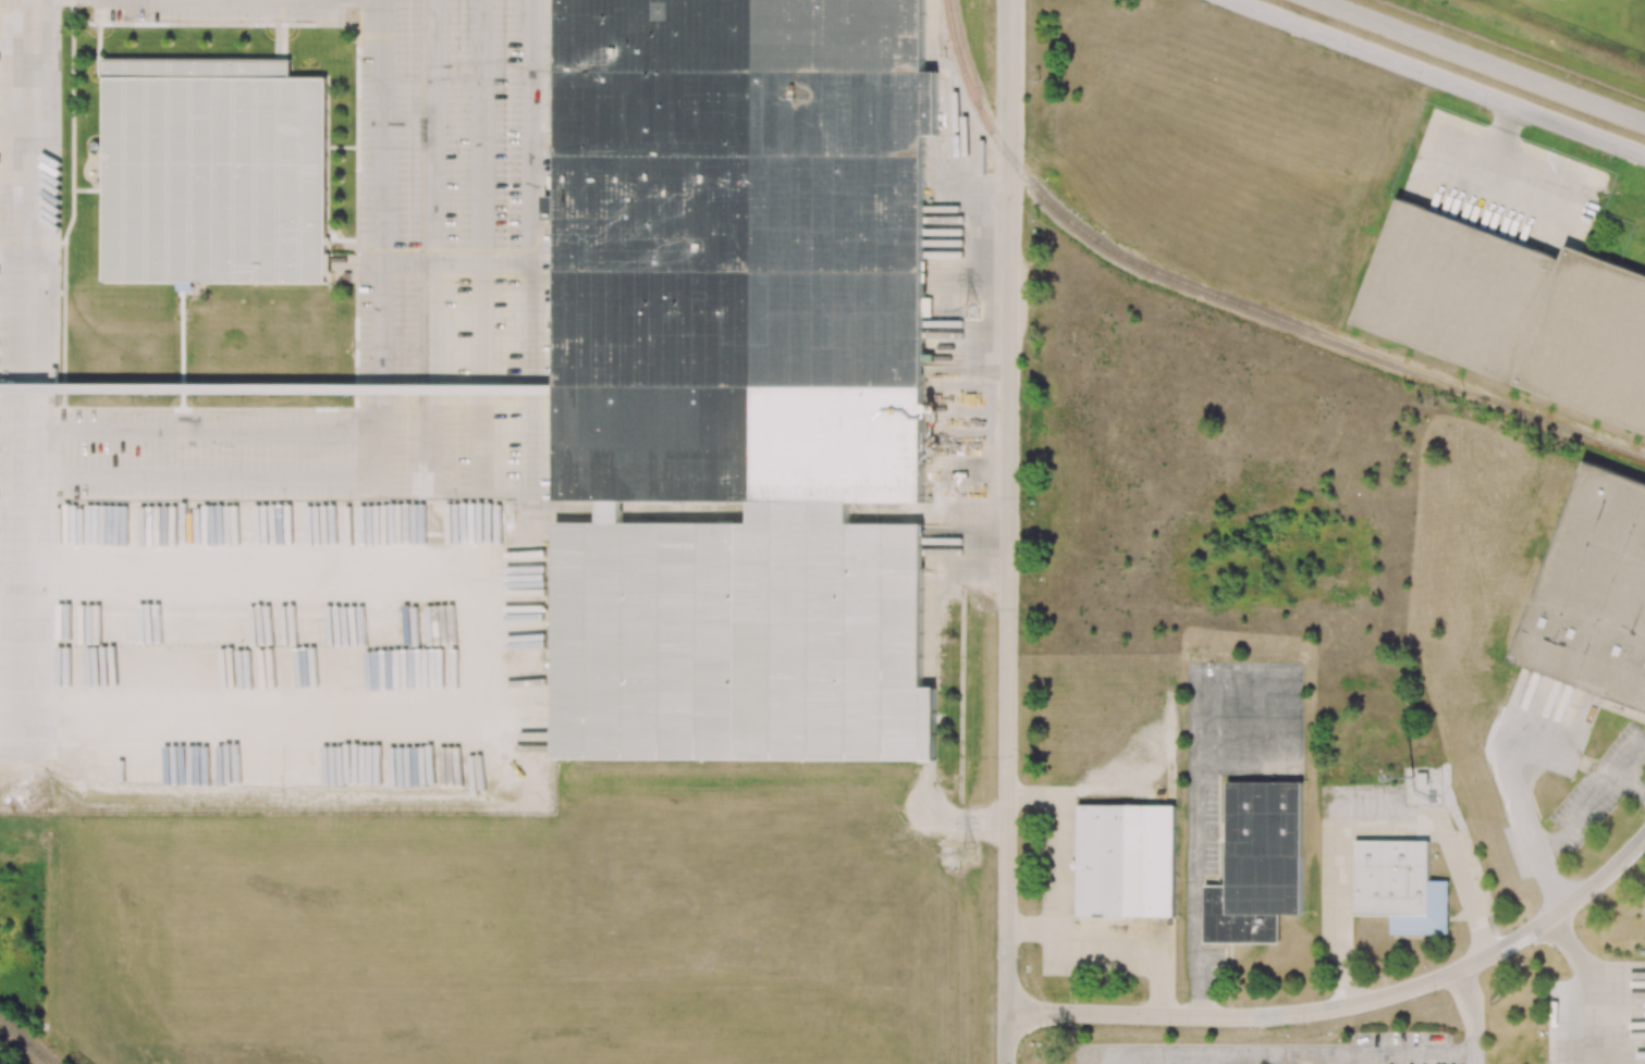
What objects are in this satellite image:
street lamp: (1208, 7)
street lamp: (1436, 28)
road: (933, 52)
street lamp: (1346, 59)
road: (1480, 62)
street lamp: (1566, 76)
road: (1436, 78)
street lamp: (1027, 100)
street lamp: (1485, 111)
road: (480, 132)
street lamp: (1616, 160)
building: (212, 171)
road: (531, 210)
street lamp: (1024, 226)
parking lot: (376, 271)
road: (430, 273)
road: (35, 287)
railway: (1232, 300)
power tower: (973, 310)
building: (1513, 312)
street lamp: (1022, 361)
building: (740, 375)
building: (274, 388)
road: (278, 389)
road: (377, 412)
road: (205, 430)
road: (506, 491)
street lamp: (1023, 509)
road: (1006, 531)
building: (1593, 592)
street lamp: (1020, 630)
road: (476, 707)
building: (1626, 713)
street lamp: (1019, 762)
road: (1511, 782)
road: (1072, 790)
road: (1569, 822)
road: (1367, 825)
road: (1193, 839)
power tower: (970, 852)
building: (1126, 859)
road: (1058, 861)
building: (1259, 864)
building: (1399, 884)
street lamp: (1019, 891)
road: (1112, 932)
road: (1595, 980)
road: (1469, 999)
road: (1350, 1005)
street lamp: (1168, 1028)
street lamp: (1038, 1030)
railway: (24, 1042)
road: (1472, 1047)
parking lot: (1300, 1052)
road: (1279, 1054)
road: (1275, 1059)

